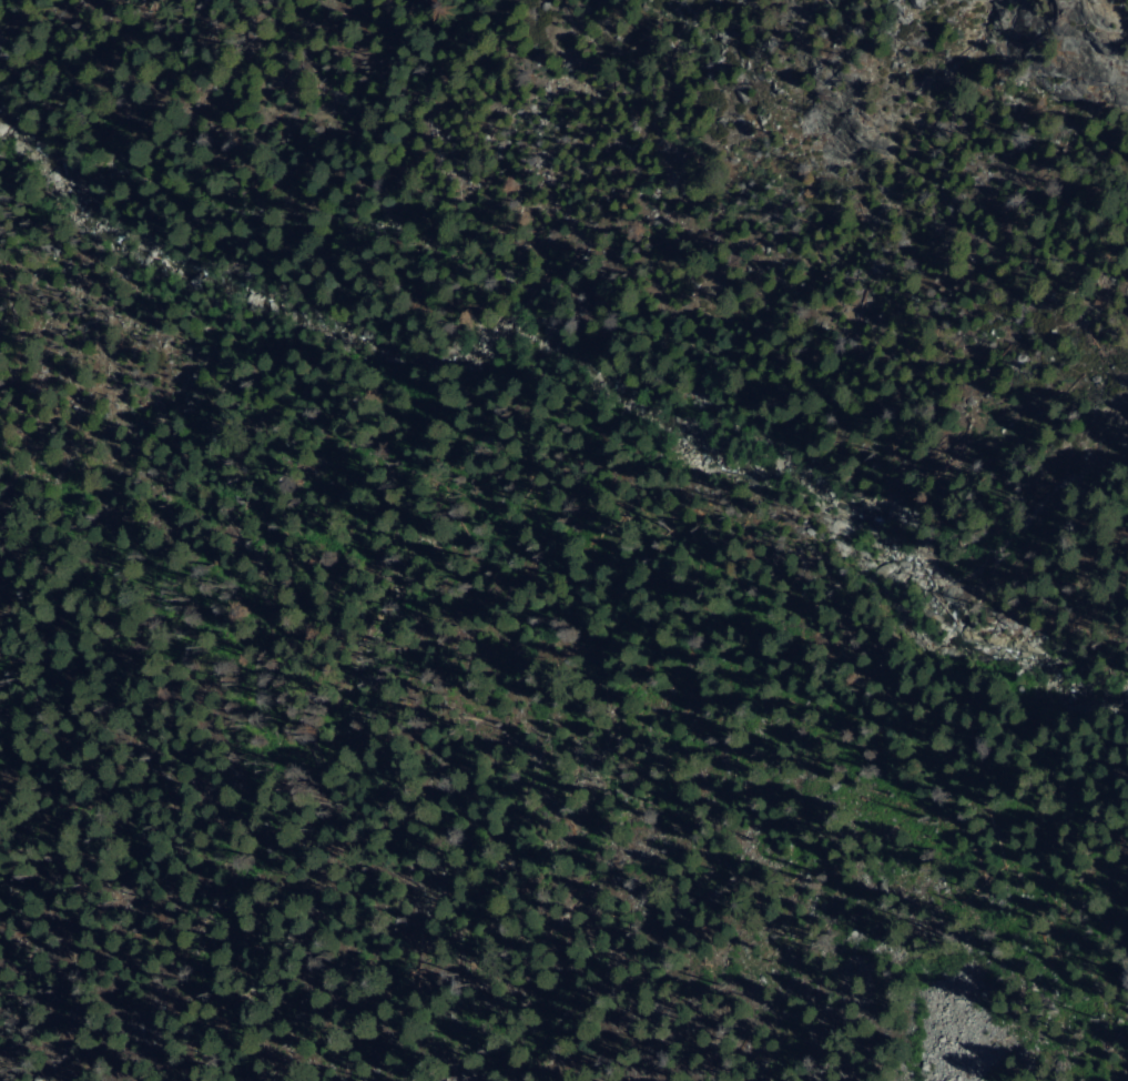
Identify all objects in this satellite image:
river: (185, 275)
river: (802, 471)

